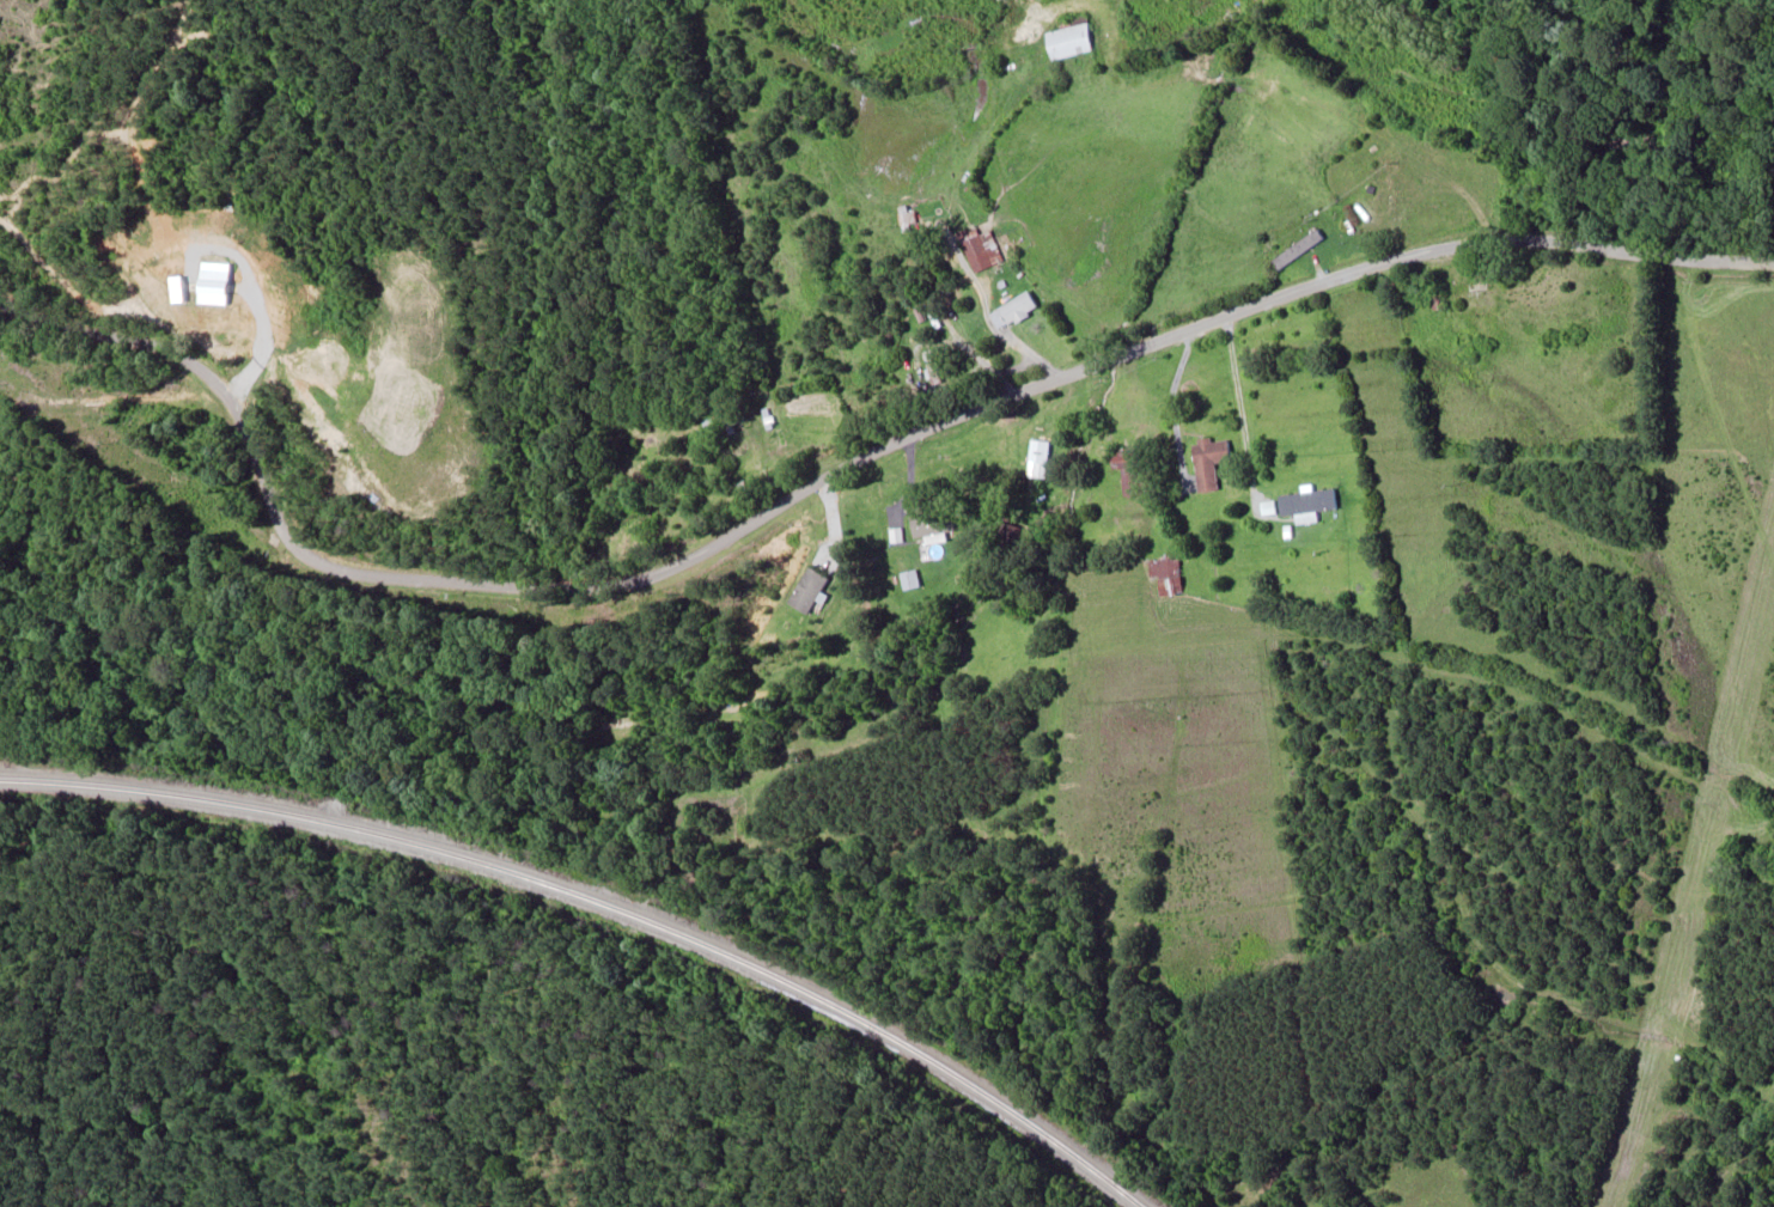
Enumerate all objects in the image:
building: (1068, 42)
building: (902, 221)
building: (975, 246)
building: (1294, 250)
building: (1012, 309)
building: (1205, 463)
road: (831, 475)
building: (1126, 476)
building: (1303, 502)
building: (921, 524)
building: (1159, 568)
building: (903, 580)
building: (804, 591)
railway: (605, 902)

